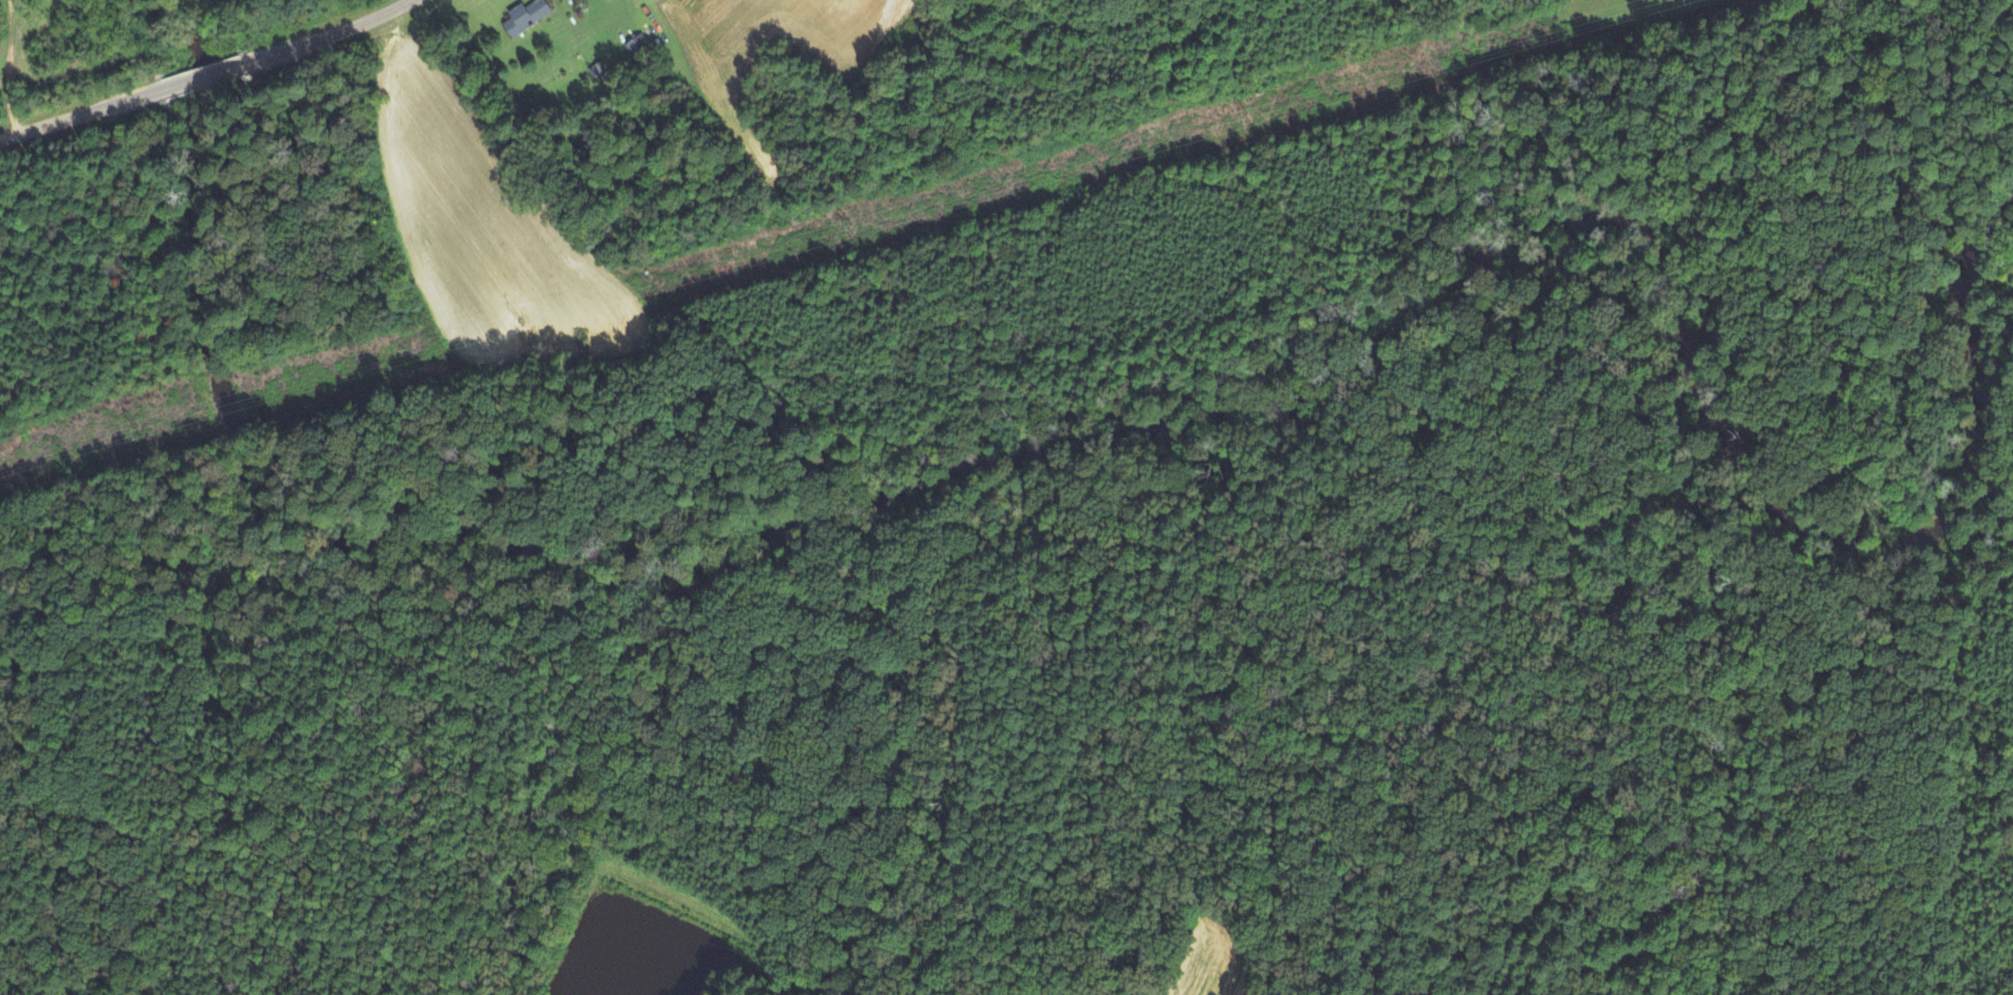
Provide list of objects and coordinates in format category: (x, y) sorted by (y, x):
building: (527, 15)
road: (342, 32)
building: (638, 47)
building: (228, 70)
road: (212, 76)
power tower: (1245, 117)
road: (77, 118)
power tower: (852, 226)
power tower: (518, 321)
power tower: (136, 430)

